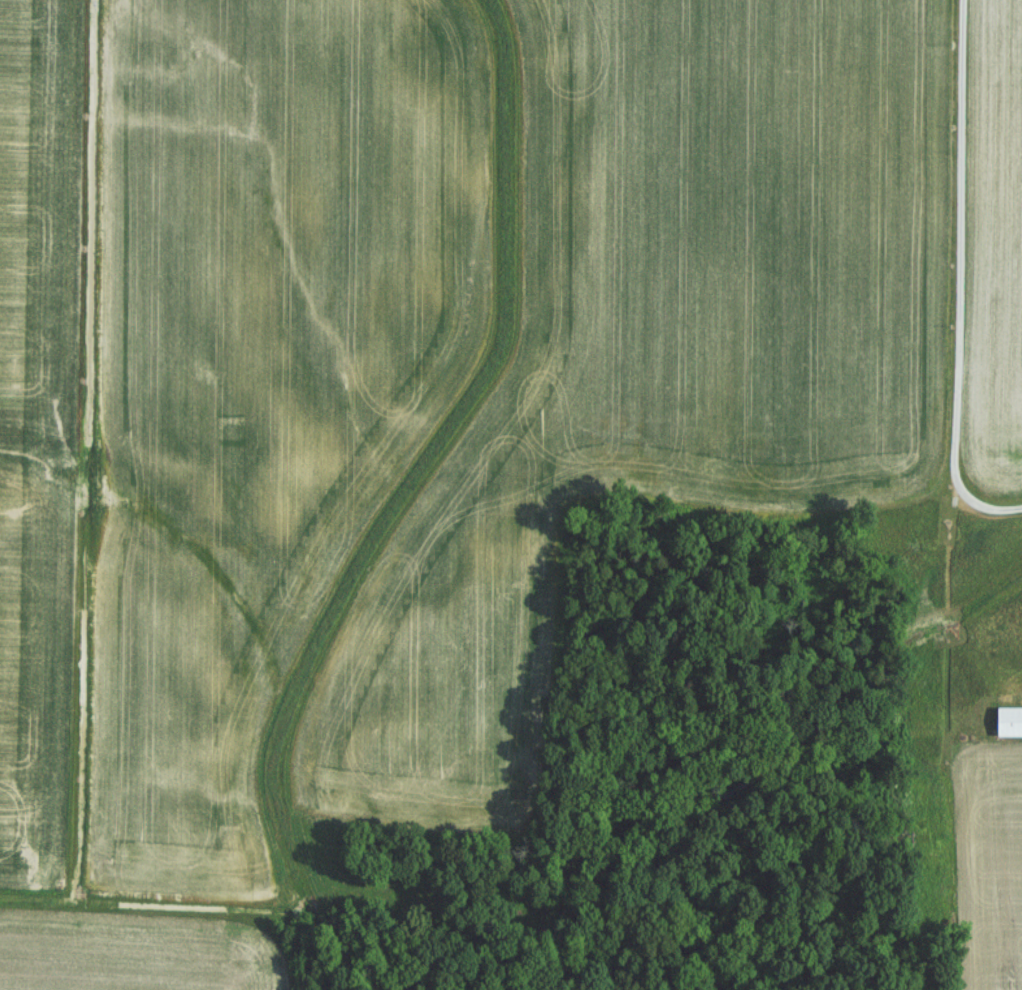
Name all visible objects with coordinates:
road: (962, 276)
building: (1007, 721)

